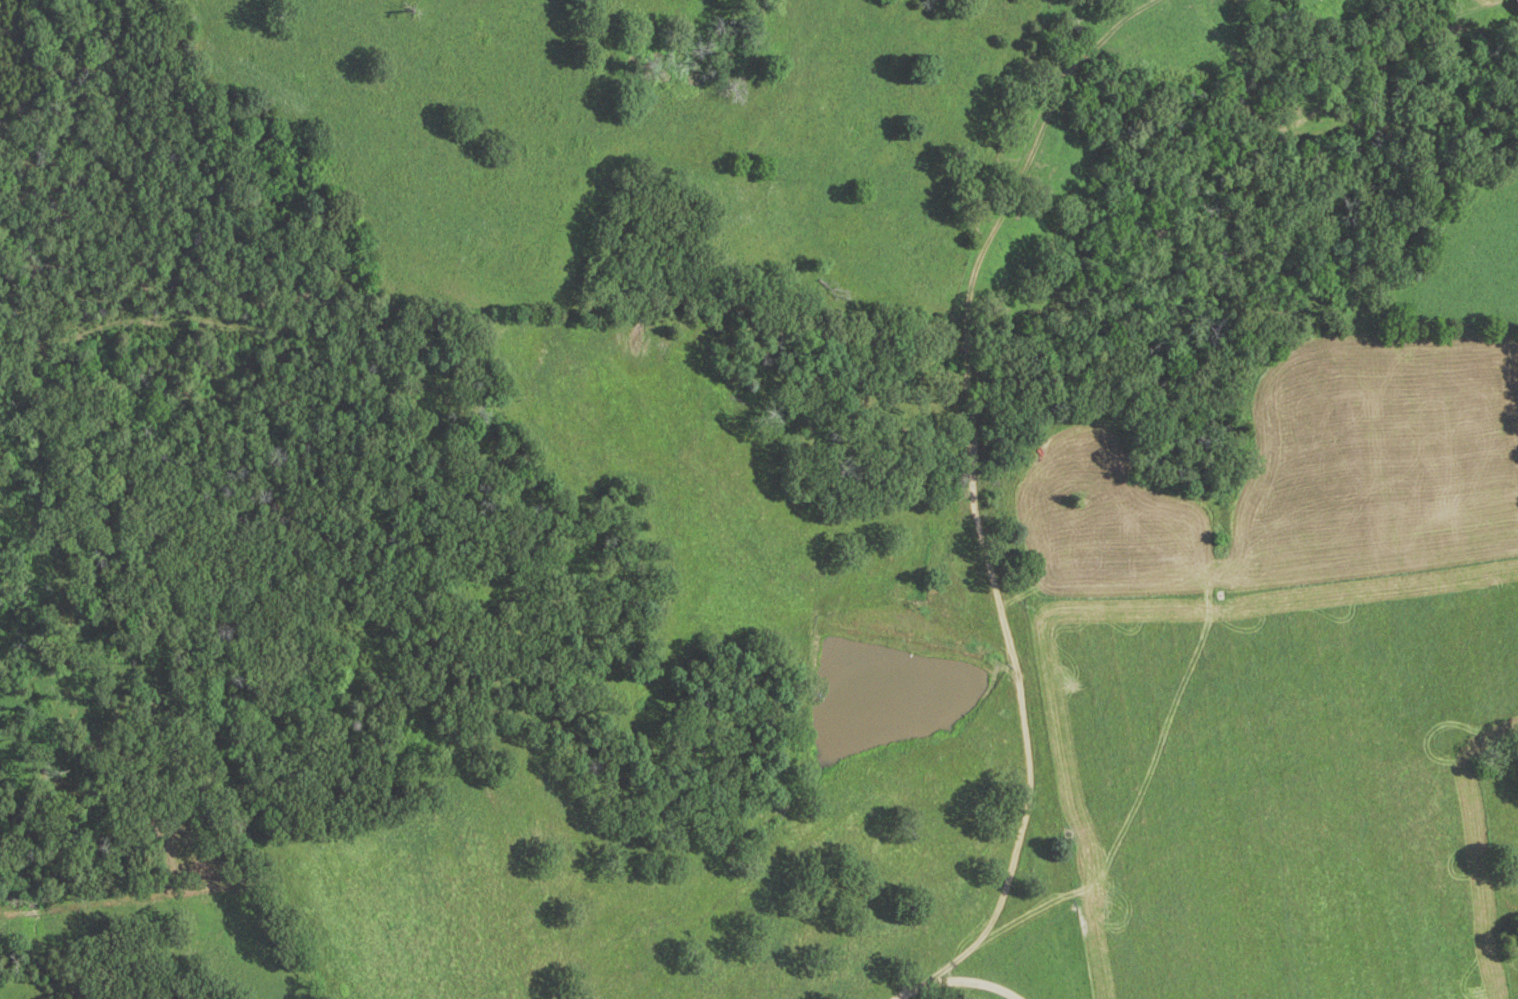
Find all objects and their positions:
road: (979, 484)
road: (955, 989)

